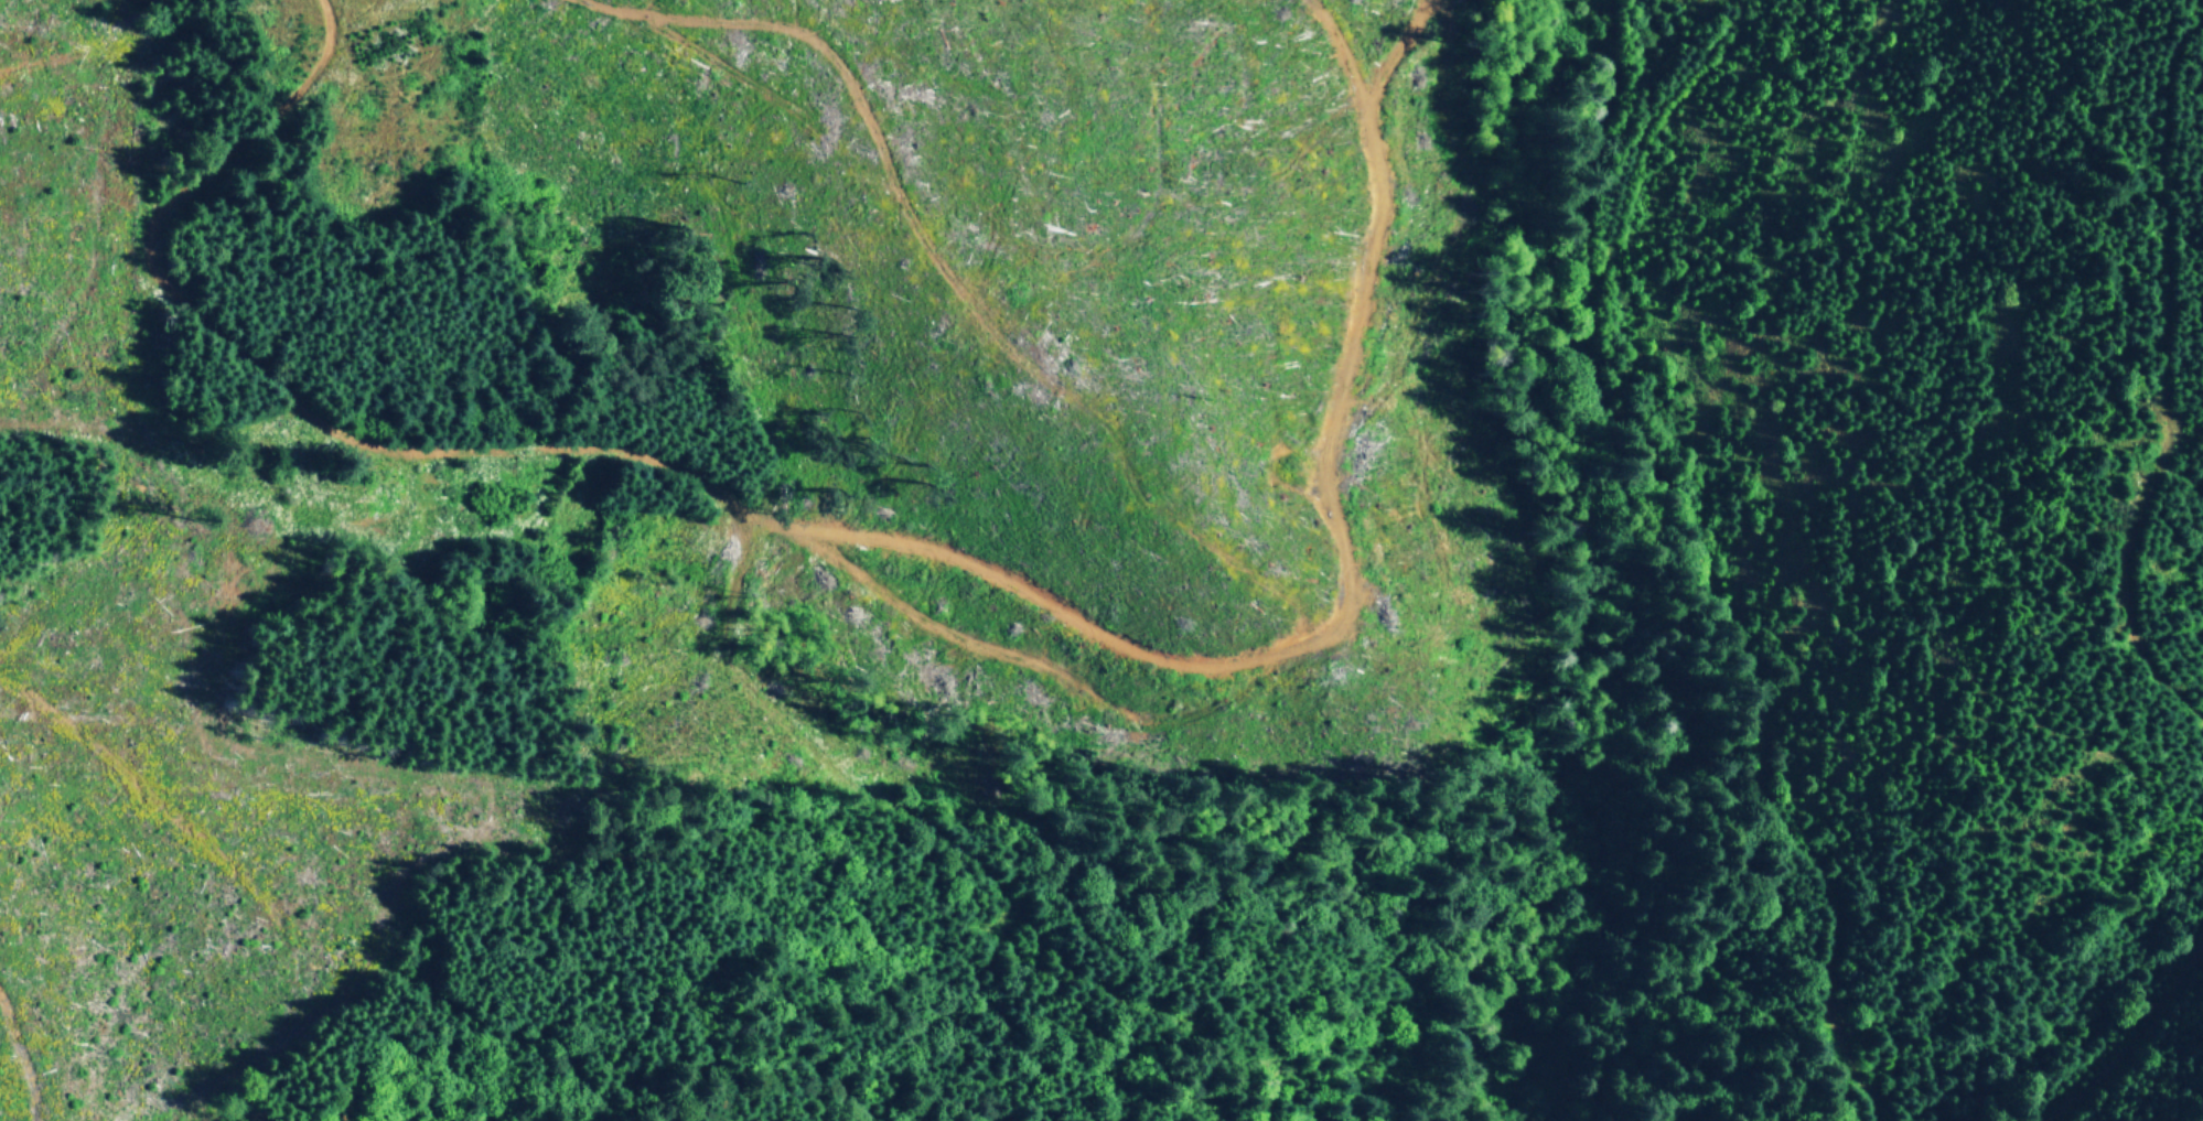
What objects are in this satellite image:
road: (1590, 155)
road: (2128, 528)
road: (1707, 545)
road: (2136, 1046)

